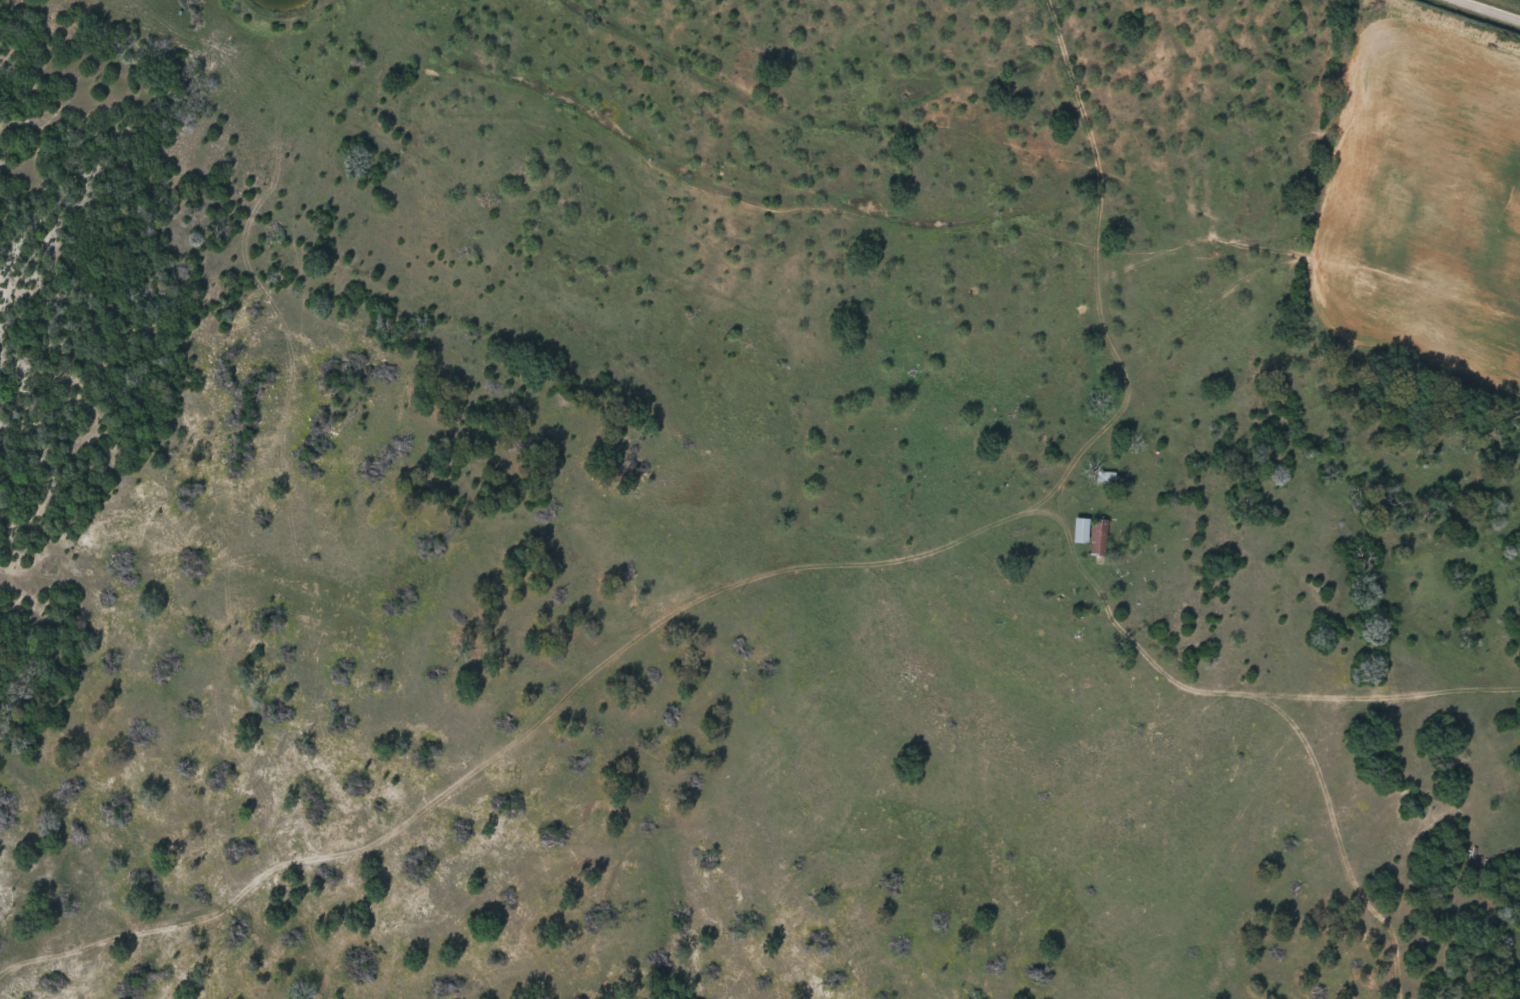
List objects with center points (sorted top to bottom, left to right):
road: (1490, 9)
building: (1082, 527)
building: (1099, 534)

